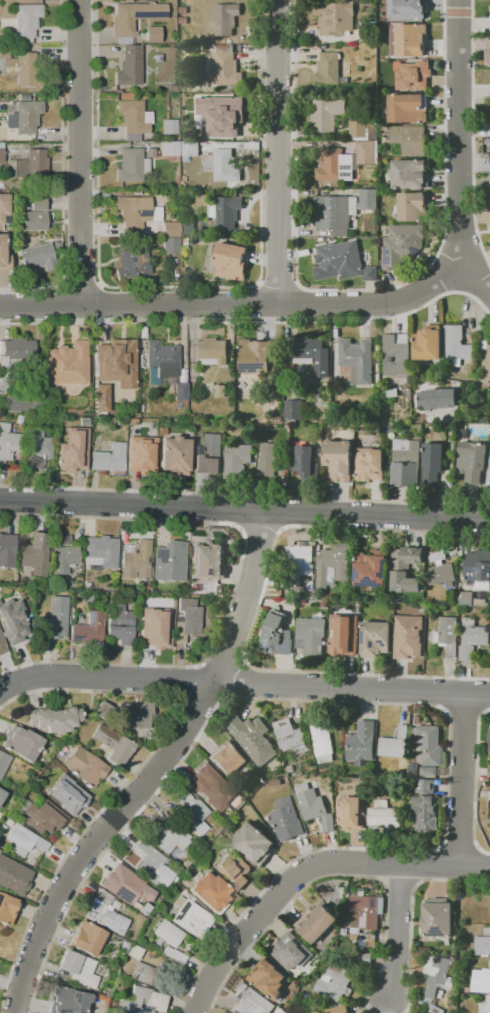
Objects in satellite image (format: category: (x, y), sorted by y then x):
building: (384, 0)
building: (407, 9)
building: (135, 16)
building: (334, 17)
building: (225, 18)
building: (27, 20)
building: (367, 31)
building: (153, 34)
building: (392, 39)
building: (411, 39)
building: (488, 52)
building: (130, 66)
building: (225, 66)
building: (20, 67)
building: (328, 70)
building: (414, 75)
building: (408, 108)
building: (326, 113)
building: (26, 116)
building: (222, 117)
building: (133, 118)
building: (169, 126)
building: (358, 128)
road: (459, 135)
building: (409, 139)
building: (169, 148)
building: (189, 148)
road: (79, 151)
road: (276, 151)
building: (1, 153)
building: (345, 161)
building: (134, 164)
building: (225, 165)
building: (28, 167)
road: (60, 172)
building: (410, 173)
building: (489, 180)
building: (38, 203)
building: (412, 206)
building: (4, 207)
building: (341, 208)
building: (226, 210)
building: (136, 211)
building: (34, 220)
building: (170, 229)
building: (186, 229)
building: (401, 243)
building: (170, 245)
building: (3, 256)
building: (39, 256)
building: (230, 260)
building: (342, 261)
building: (132, 263)
road: (253, 302)
road: (253, 320)
building: (428, 343)
building: (456, 344)
building: (211, 351)
building: (393, 352)
building: (311, 353)
building: (14, 356)
building: (258, 356)
building: (484, 358)
building: (113, 359)
building: (357, 359)
building: (162, 361)
building: (68, 364)
building: (180, 390)
building: (220, 390)
building: (392, 392)
building: (100, 397)
building: (438, 398)
building: (23, 404)
building: (293, 410)
building: (37, 441)
building: (8, 443)
building: (69, 444)
building: (143, 451)
building: (174, 455)
building: (209, 455)
building: (109, 458)
building: (267, 458)
building: (237, 459)
building: (304, 459)
building: (338, 459)
building: (472, 460)
building: (35, 462)
building: (405, 462)
building: (432, 463)
building: (369, 464)
building: (489, 465)
road: (445, 467)
road: (244, 495)
road: (244, 514)
building: (63, 540)
building: (7, 550)
building: (35, 550)
building: (100, 551)
building: (65, 558)
building: (207, 559)
building: (136, 560)
building: (169, 561)
building: (297, 564)
building: (477, 564)
building: (332, 565)
building: (370, 568)
building: (405, 568)
building: (440, 569)
road: (235, 580)
building: (465, 597)
building: (163, 601)
building: (56, 618)
building: (12, 620)
building: (187, 620)
building: (120, 624)
building: (161, 628)
building: (90, 629)
building: (276, 634)
building: (448, 634)
building: (311, 635)
building: (408, 636)
building: (345, 637)
building: (472, 637)
building: (375, 638)
building: (1, 646)
road: (166, 680)
road: (244, 684)
road: (1, 691)
road: (132, 694)
road: (371, 703)
building: (103, 711)
building: (135, 715)
building: (54, 719)
building: (252, 737)
building: (291, 737)
building: (323, 740)
building: (489, 740)
building: (21, 742)
building: (362, 742)
building: (394, 743)
building: (113, 744)
building: (427, 747)
building: (229, 759)
building: (4, 763)
building: (85, 766)
building: (429, 770)
building: (489, 771)
road: (158, 772)
road: (462, 778)
building: (275, 781)
building: (425, 785)
building: (211, 787)
building: (58, 791)
building: (489, 794)
building: (2, 795)
building: (73, 804)
building: (313, 805)
building: (351, 812)
building: (192, 813)
building: (426, 814)
building: (385, 815)
building: (43, 817)
building: (286, 819)
building: (167, 837)
building: (24, 840)
building: (254, 843)
building: (149, 862)
road: (403, 863)
building: (234, 869)
building: (13, 876)
road: (46, 888)
building: (121, 889)
building: (210, 891)
building: (467, 899)
building: (489, 907)
building: (7, 909)
building: (145, 911)
building: (188, 912)
building: (105, 914)
building: (364, 917)
building: (437, 917)
building: (316, 922)
building: (344, 930)
road: (399, 930)
road: (250, 931)
building: (167, 932)
building: (87, 938)
building: (482, 944)
building: (291, 950)
building: (134, 952)
building: (174, 954)
building: (361, 958)
road: (201, 959)
building: (78, 968)
building: (152, 973)
building: (436, 973)
road: (43, 978)
building: (267, 978)
building: (481, 980)
building: (334, 983)
building: (250, 1000)
building: (70, 1001)
building: (142, 1001)
building: (485, 1006)
building: (435, 1009)
building: (338, 1010)
building: (317, 1012)

